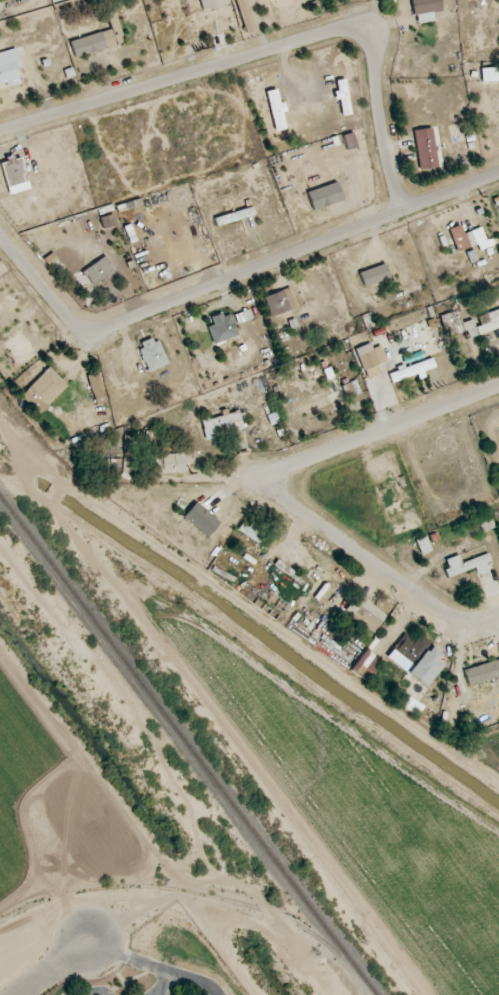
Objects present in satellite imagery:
building: (211, 4)
building: (425, 10)
building: (245, 15)
building: (99, 38)
road: (274, 48)
building: (9, 67)
building: (489, 74)
building: (341, 91)
building: (276, 110)
building: (349, 141)
building: (425, 148)
building: (13, 172)
building: (324, 196)
building: (234, 216)
building: (107, 221)
building: (467, 238)
building: (98, 271)
building: (374, 275)
road: (231, 278)
building: (280, 302)
building: (243, 316)
building: (490, 321)
building: (457, 325)
building: (221, 328)
building: (152, 354)
building: (371, 361)
building: (412, 370)
building: (97, 388)
building: (44, 389)
building: (351, 389)
building: (315, 406)
building: (219, 425)
building: (498, 429)
building: (158, 462)
building: (172, 463)
building: (128, 469)
road: (278, 493)
building: (485, 523)
building: (188, 525)
building: (254, 534)
building: (423, 545)
building: (467, 565)
road: (251, 613)
building: (365, 613)
building: (416, 659)
building: (366, 665)
building: (482, 672)
building: (412, 707)
road: (231, 742)
railway: (188, 744)
railway: (200, 894)
road: (63, 969)

